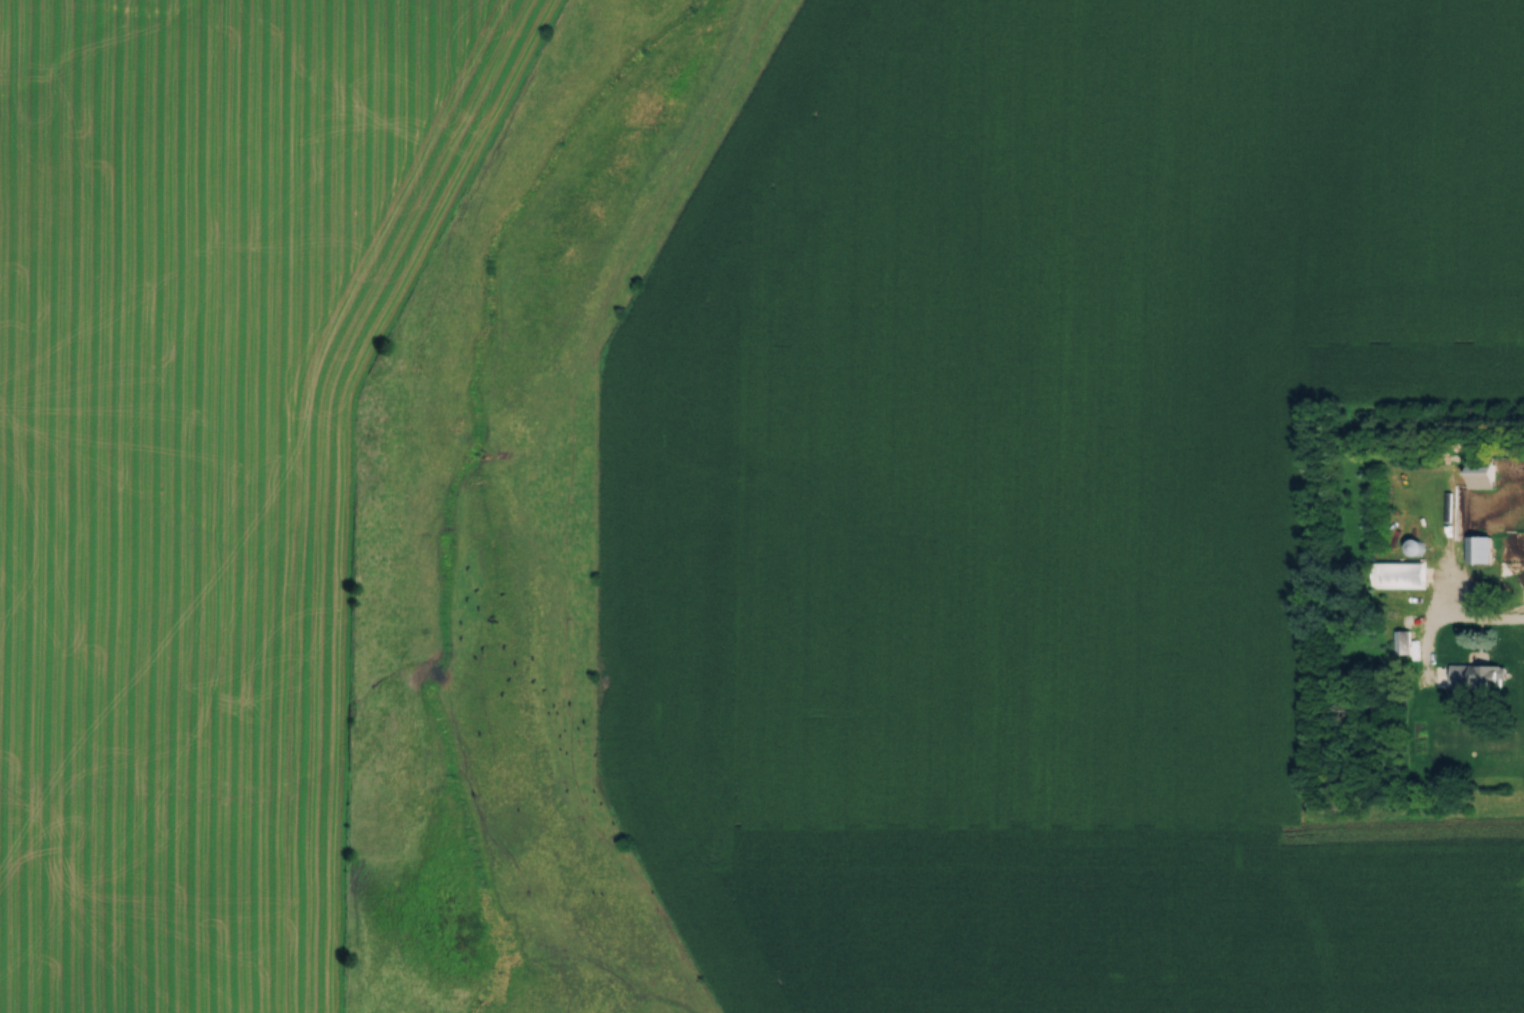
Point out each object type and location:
building: (1478, 468)
building: (1413, 543)
building: (1478, 545)
building: (1397, 570)
road: (1502, 622)
building: (1400, 638)
building: (1486, 672)
building: (1428, 737)

